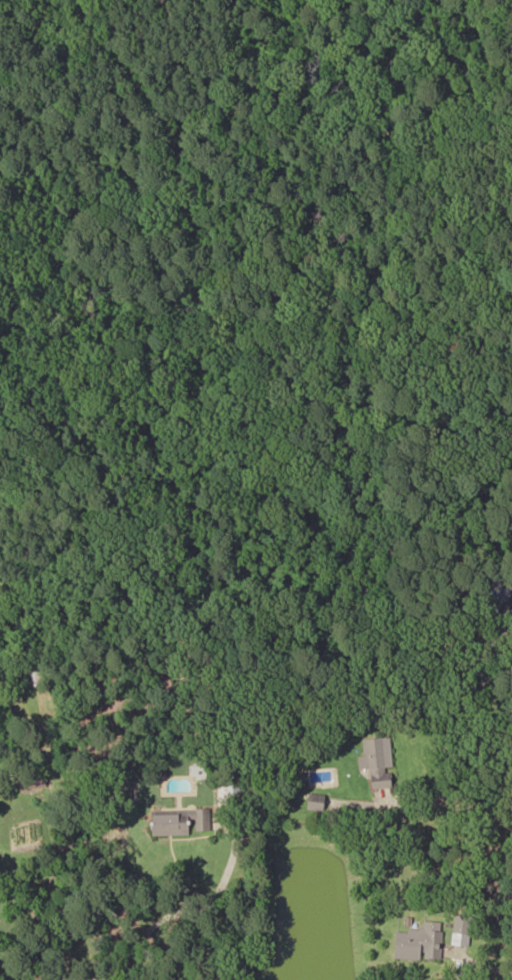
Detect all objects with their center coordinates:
building: (35, 675)
building: (376, 760)
building: (233, 795)
building: (319, 802)
building: (183, 822)
building: (460, 925)
building: (417, 942)

